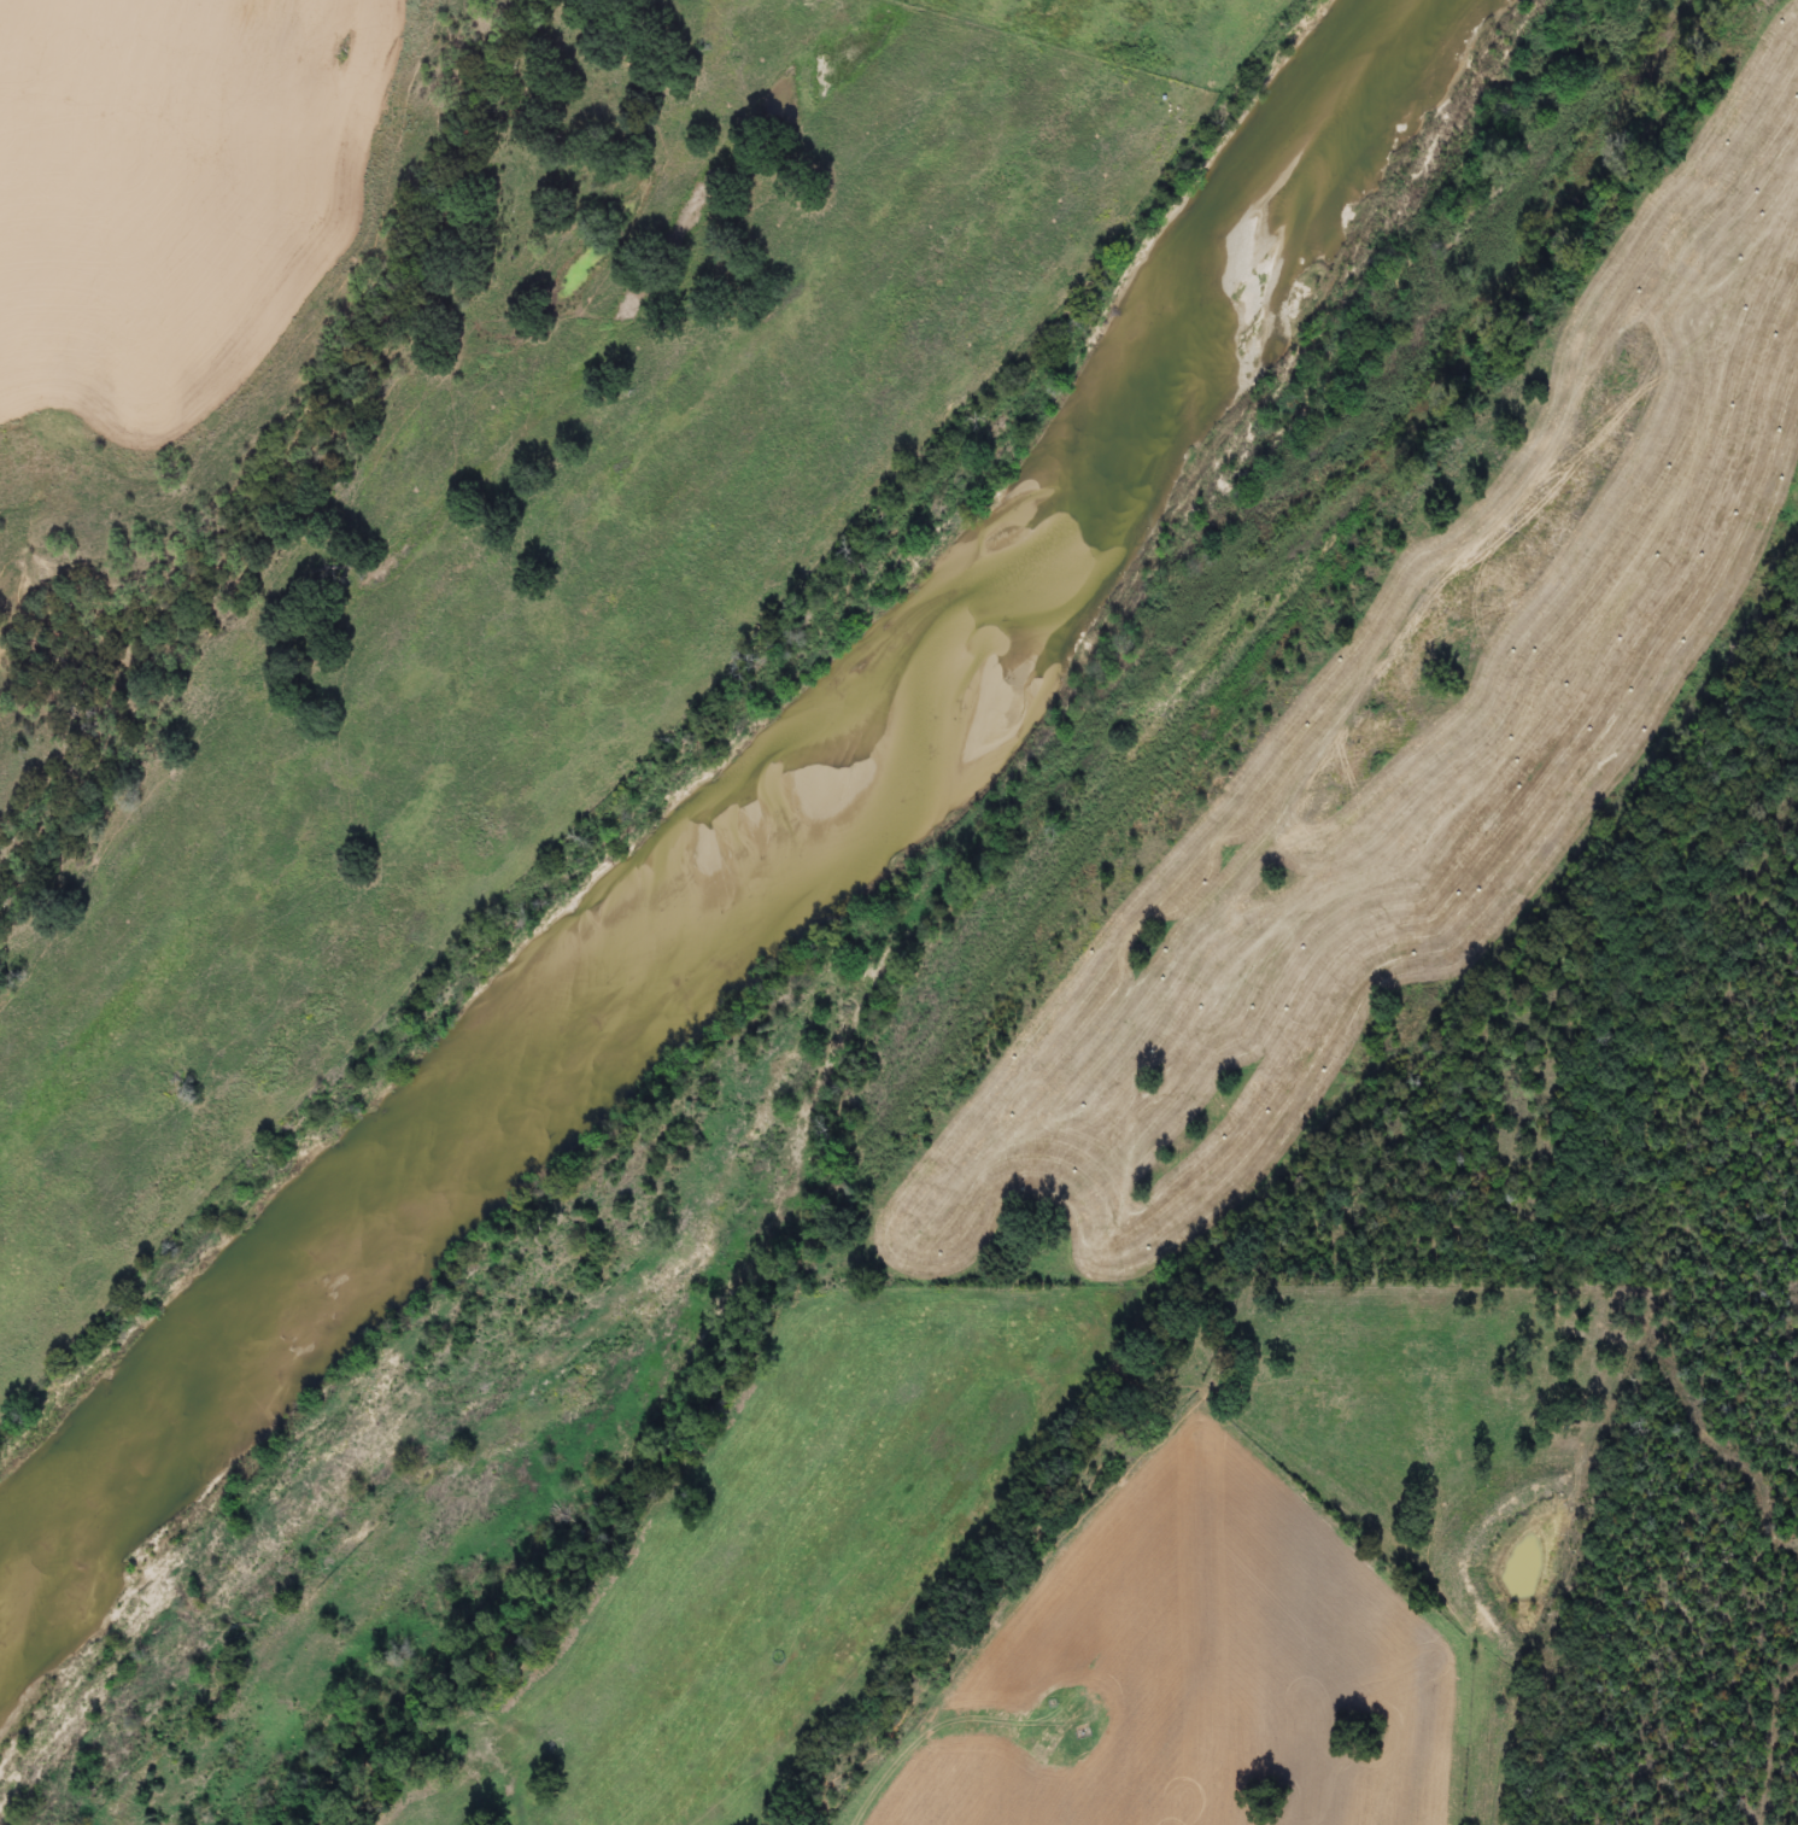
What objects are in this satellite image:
river: (820, 888)

